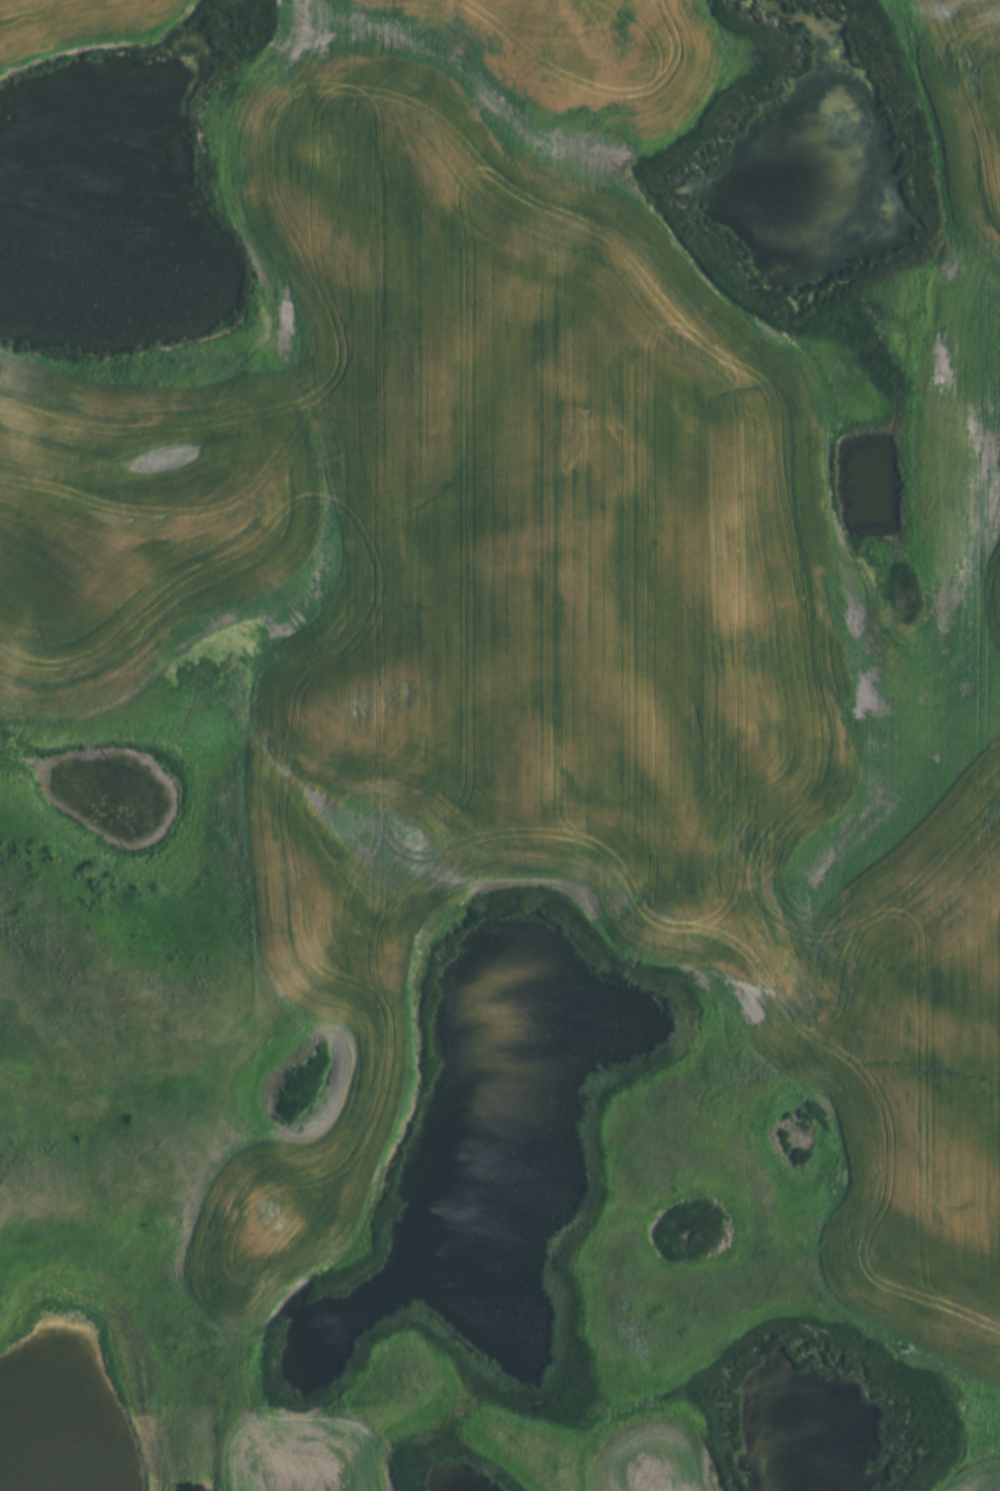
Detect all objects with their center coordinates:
road: (845, 1203)

